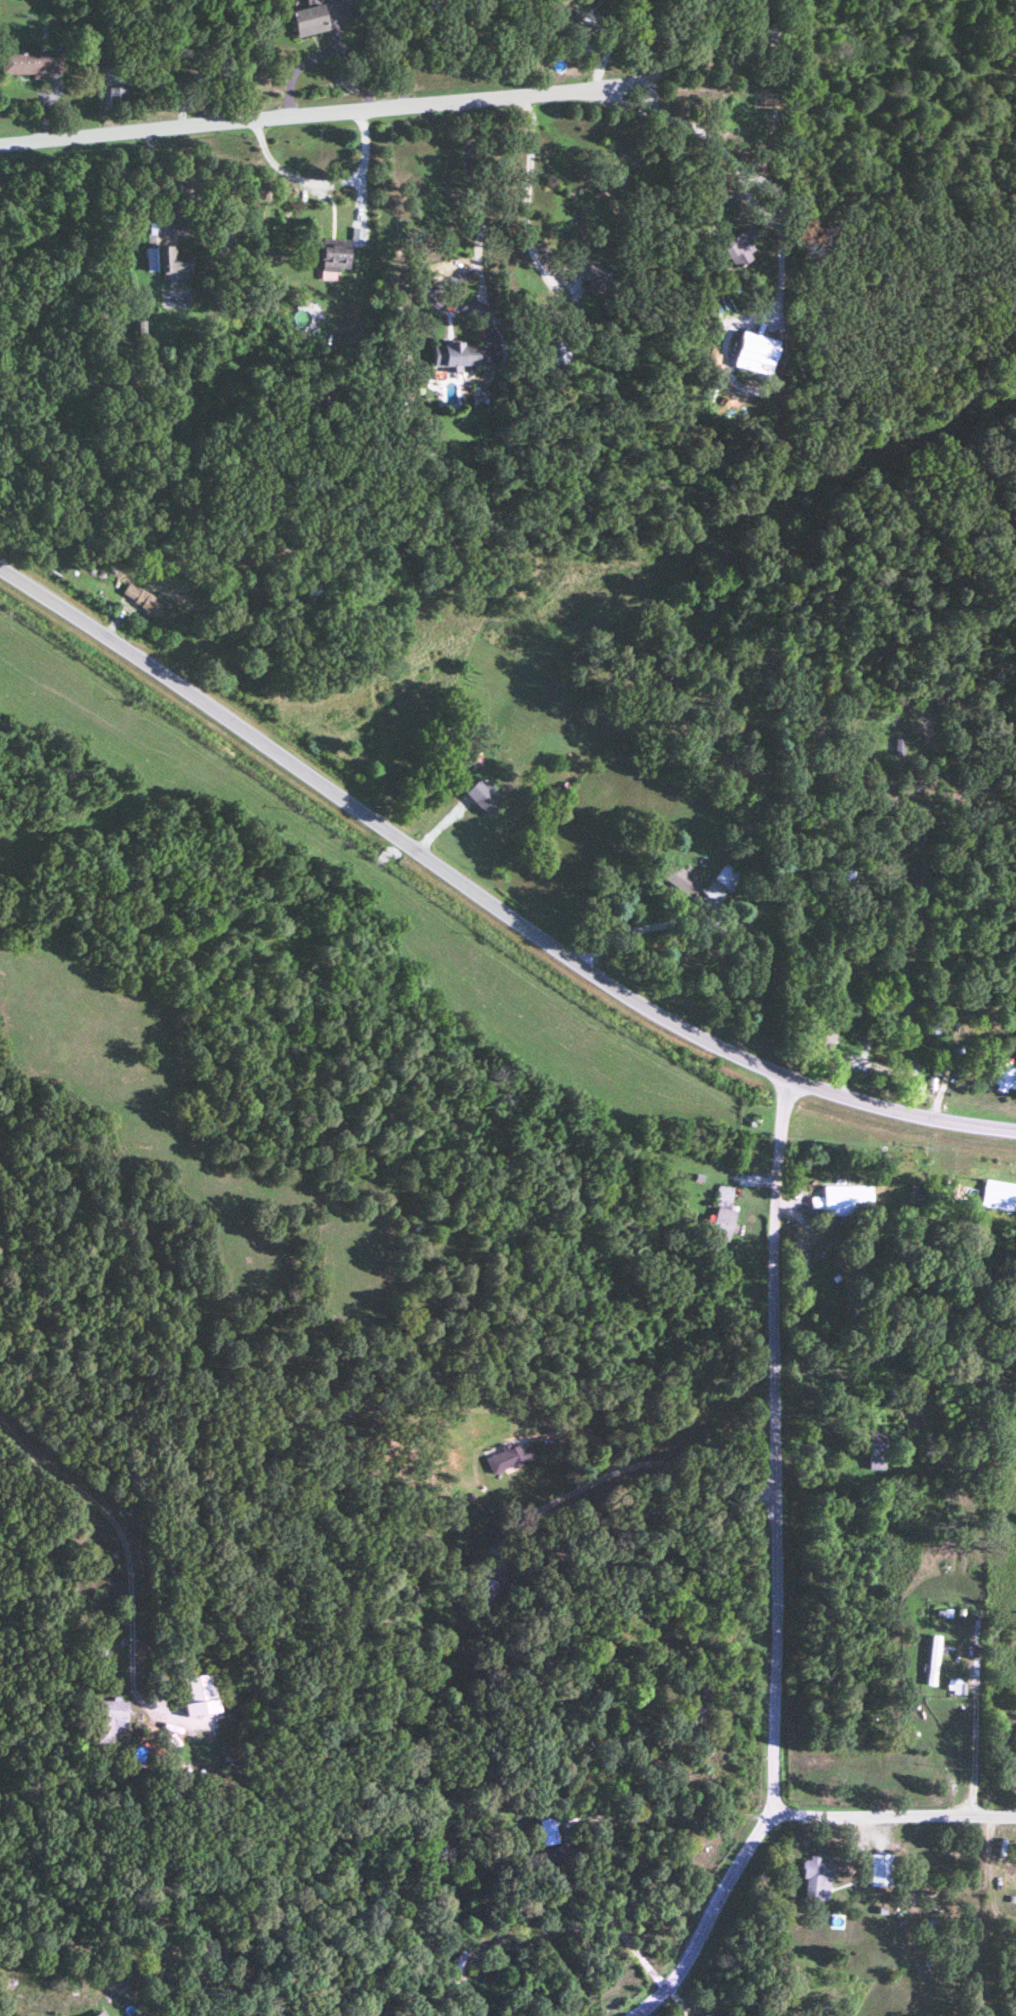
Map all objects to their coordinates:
building: (304, 17)
road: (676, 37)
road: (407, 53)
building: (31, 59)
building: (119, 93)
road: (643, 96)
road: (293, 115)
road: (697, 172)
road: (360, 176)
road: (524, 194)
road: (151, 215)
building: (355, 232)
road: (477, 232)
building: (737, 243)
building: (164, 256)
building: (328, 258)
building: (593, 278)
building: (751, 350)
building: (450, 352)
building: (143, 597)
building: (479, 793)
building: (726, 873)
building: (677, 874)
road: (484, 900)
road: (757, 967)
building: (969, 1190)
building: (847, 1201)
building: (722, 1217)
building: (876, 1454)
building: (508, 1458)
road: (641, 1462)
road: (108, 1527)
road: (772, 1570)
building: (483, 1584)
building: (932, 1661)
road: (724, 1682)
building: (195, 1695)
building: (109, 1721)
road: (976, 1730)
building: (665, 1749)
building: (1011, 1764)
road: (891, 1816)
building: (551, 1857)
building: (879, 1871)
building: (813, 1880)
building: (1011, 1883)
road: (620, 1935)
building: (96, 2015)

